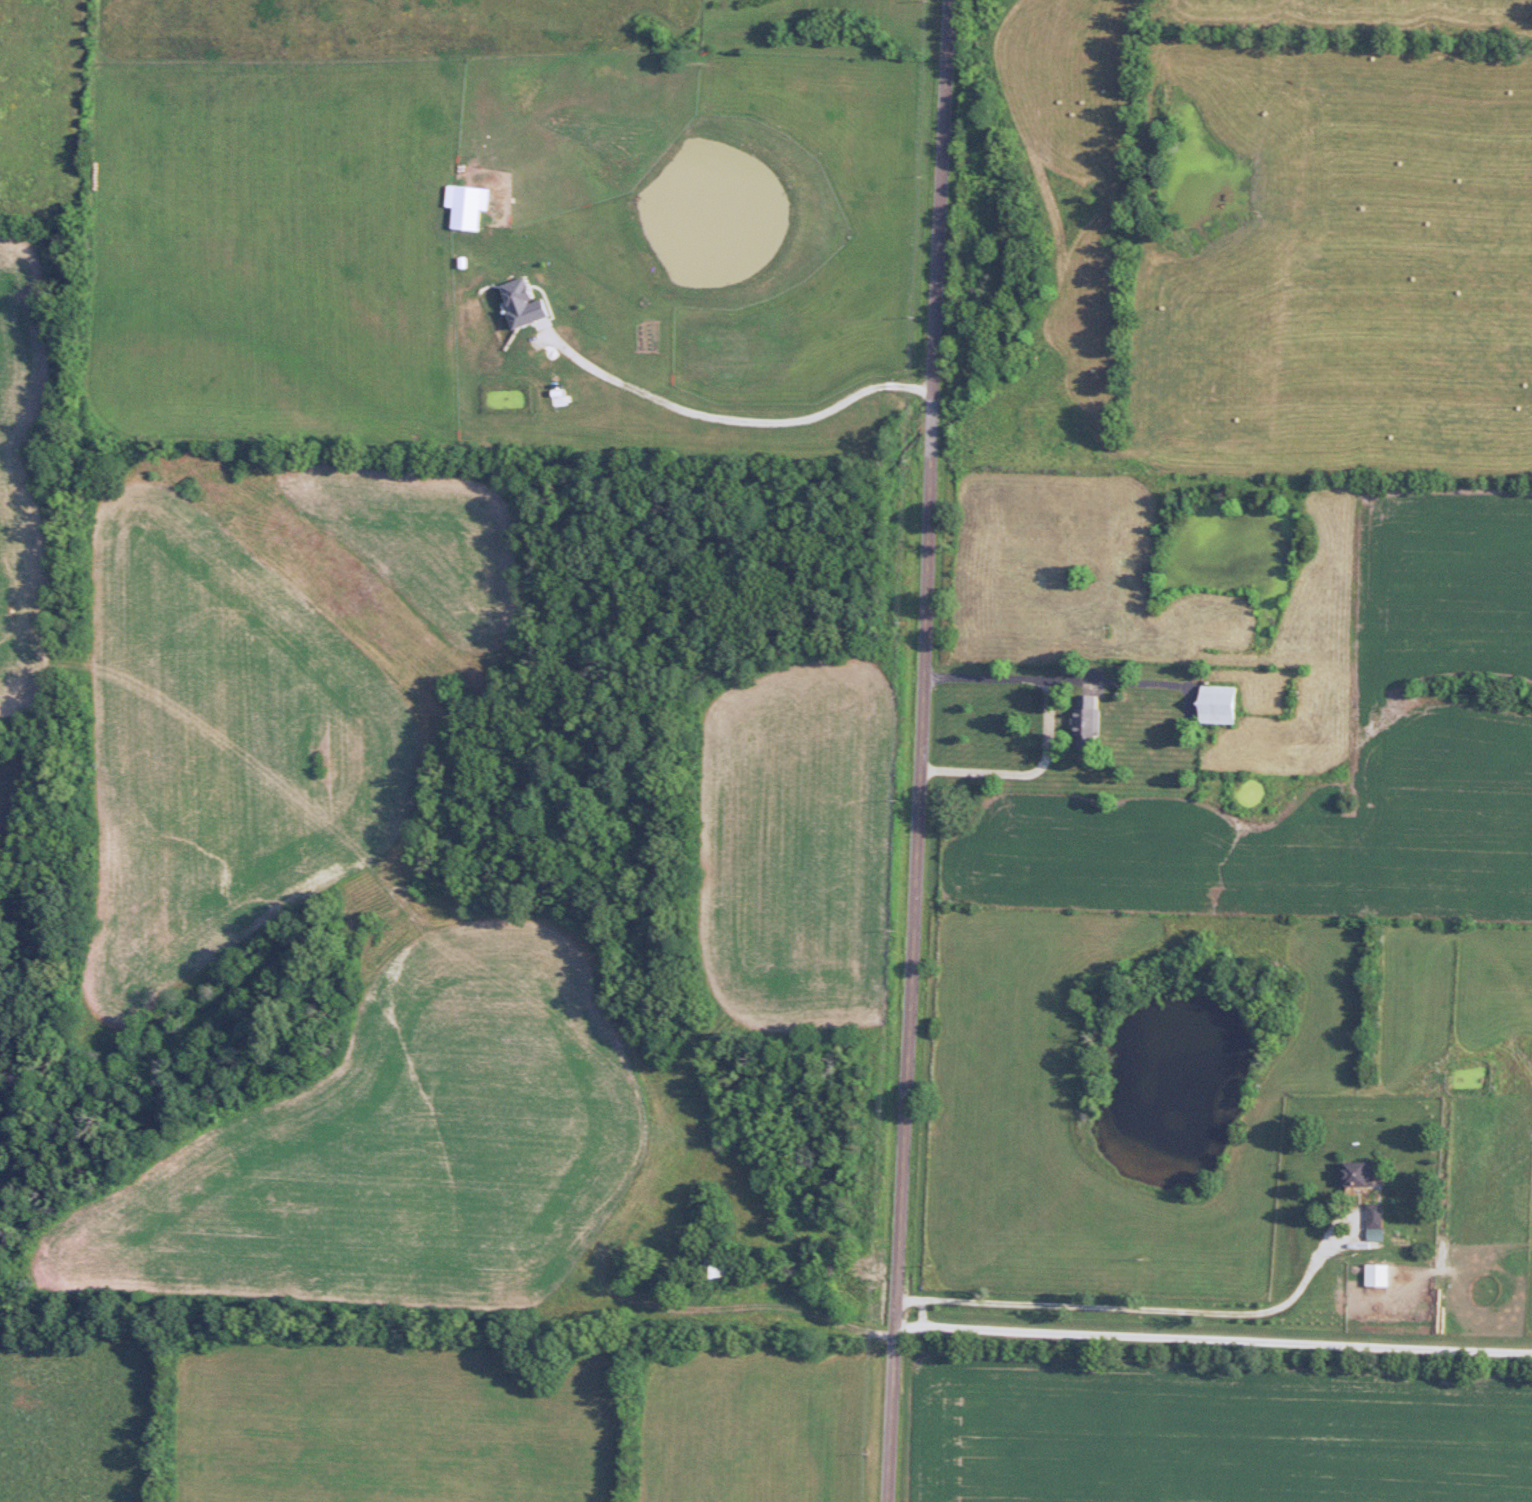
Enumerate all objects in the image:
road: (733, 416)
building: (1223, 704)
building: (1081, 720)
road: (1044, 726)
road: (914, 750)
building: (1360, 1174)
building: (1378, 1223)
building: (1379, 1275)
road: (1126, 1308)
road: (1211, 1337)

